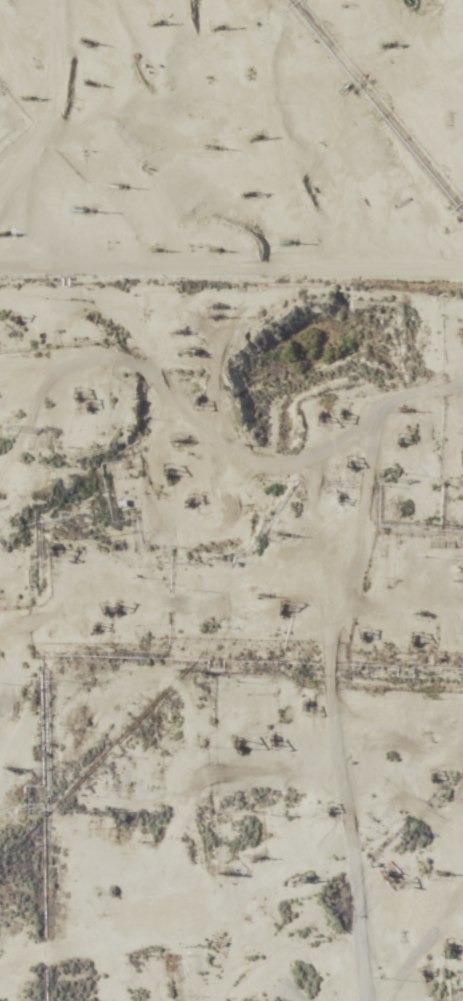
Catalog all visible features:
road: (329, 104)
road: (358, 869)
road: (447, 997)

